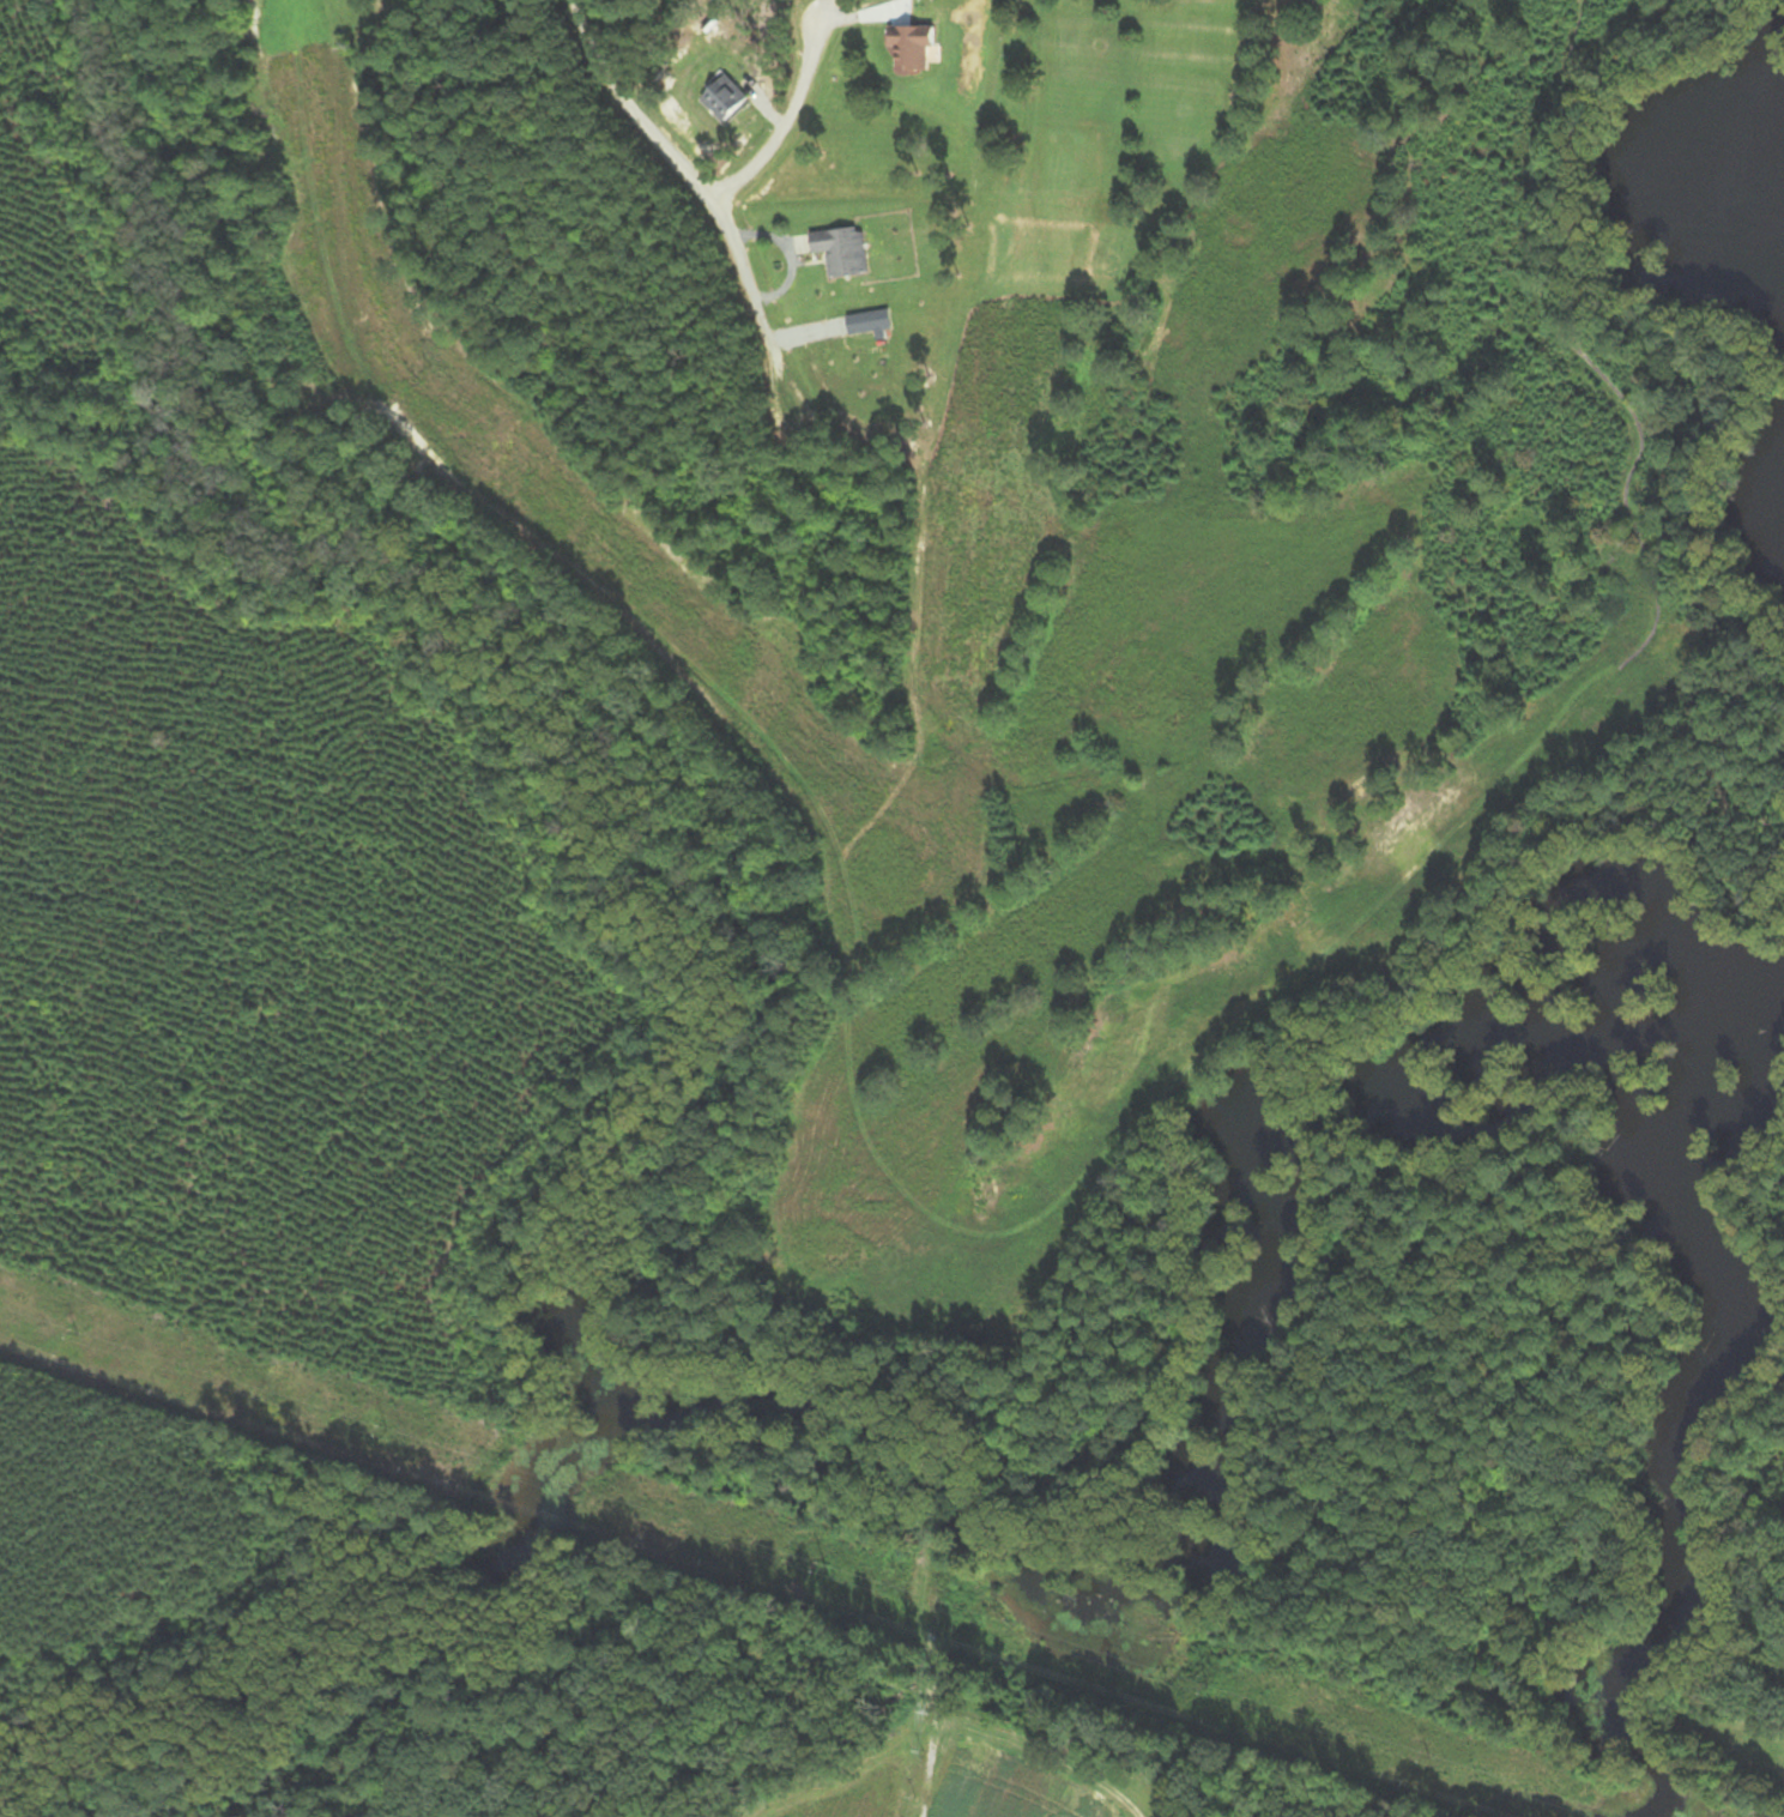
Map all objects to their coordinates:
building: (915, 47)
road: (793, 114)
road: (682, 169)
building: (845, 250)

